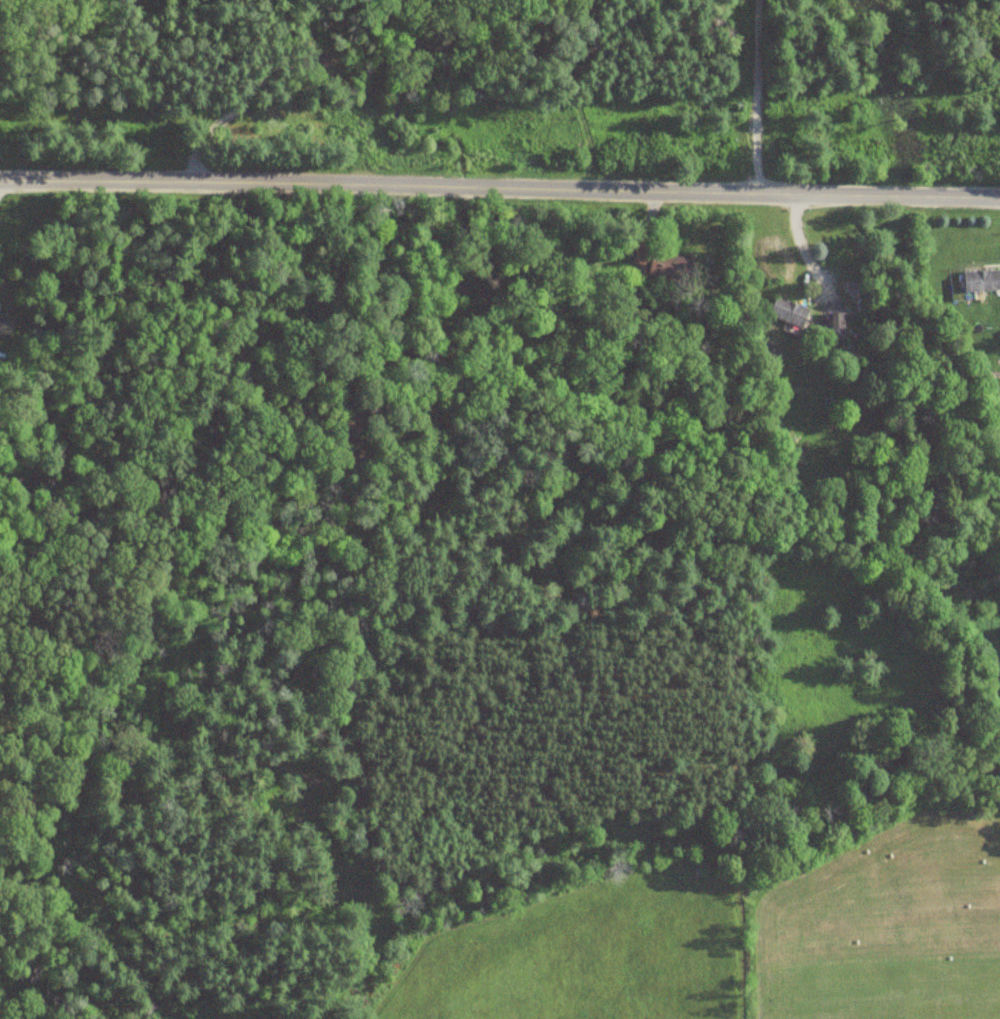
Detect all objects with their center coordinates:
road: (742, 96)
road: (500, 188)
building: (650, 258)
building: (980, 279)
building: (786, 313)
building: (5, 326)
building: (834, 331)

